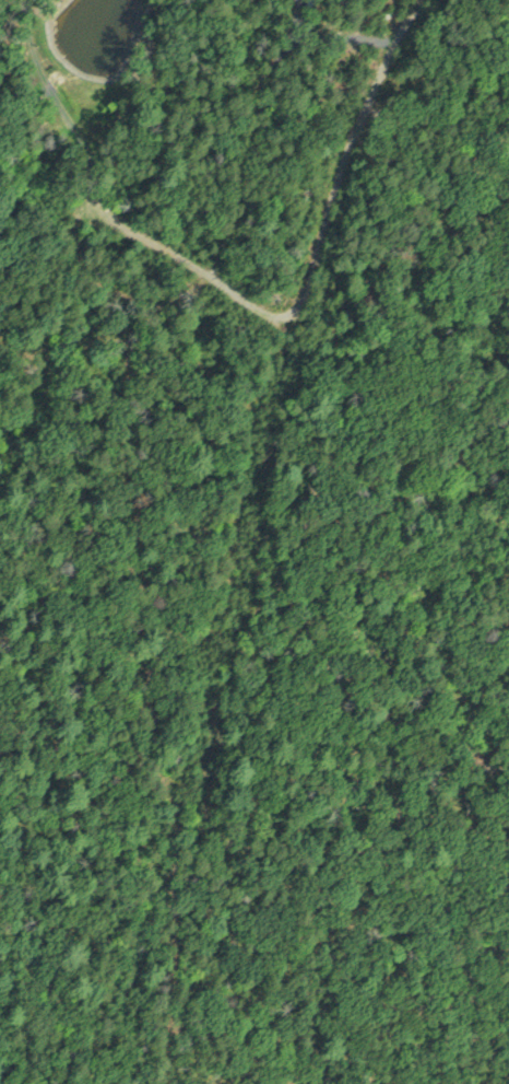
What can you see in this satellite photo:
road: (403, 20)

